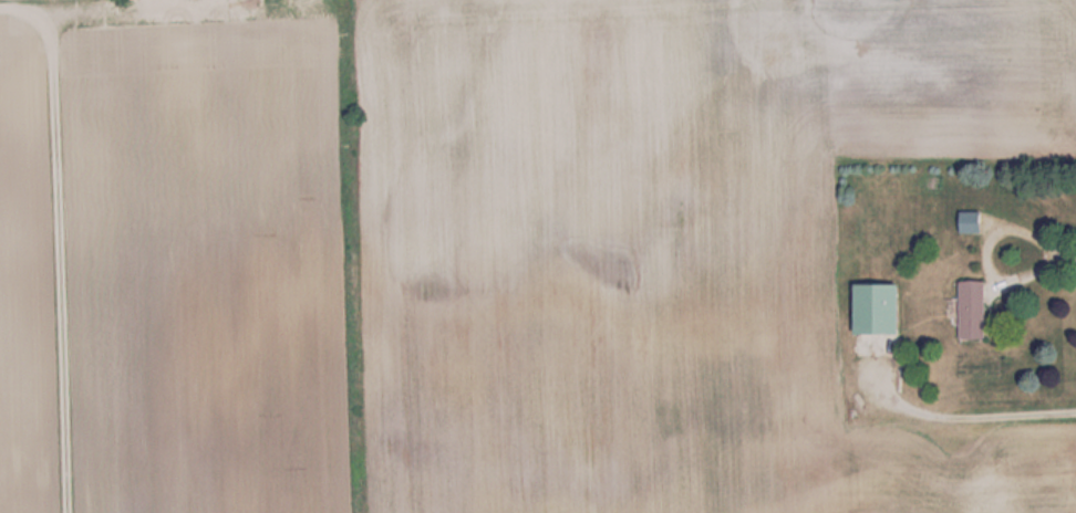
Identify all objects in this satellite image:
building: (975, 222)
building: (887, 308)
building: (977, 310)

